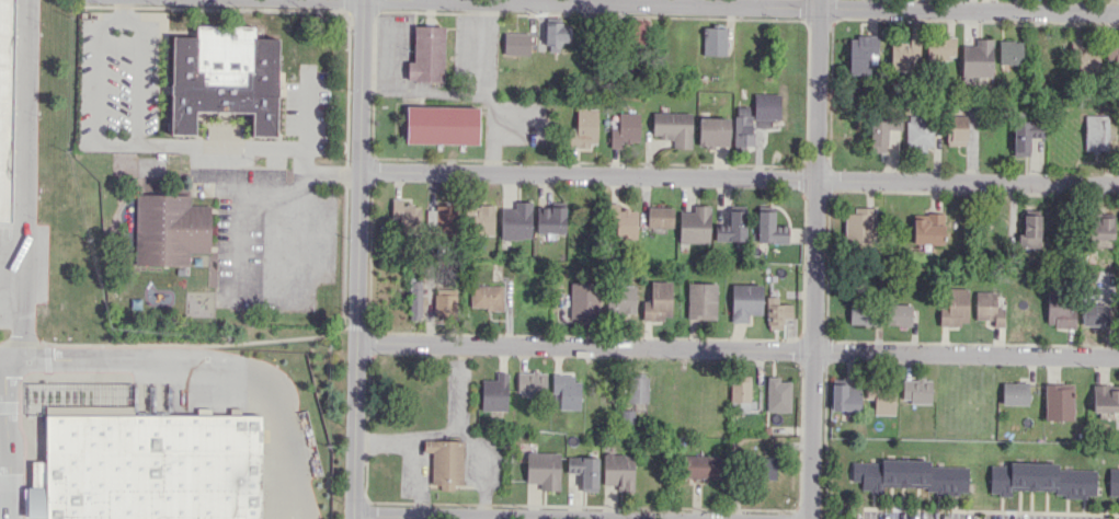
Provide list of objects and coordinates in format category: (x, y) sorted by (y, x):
road: (768, 7)
building: (555, 33)
building: (713, 39)
building: (516, 43)
building: (939, 47)
building: (1009, 51)
building: (861, 54)
building: (426, 55)
building: (904, 55)
building: (1114, 55)
building: (977, 58)
building: (1085, 58)
road: (138, 76)
building: (224, 77)
road: (477, 89)
road: (423, 90)
building: (3, 101)
building: (766, 105)
building: (442, 124)
building: (742, 126)
building: (672, 127)
building: (584, 128)
building: (881, 128)
building: (625, 129)
building: (956, 129)
building: (712, 131)
building: (920, 131)
building: (1096, 132)
building: (1025, 135)
road: (159, 142)
road: (739, 177)
road: (24, 181)
road: (242, 208)
building: (407, 216)
building: (430, 216)
building: (660, 216)
building: (550, 218)
building: (444, 219)
building: (481, 219)
building: (516, 221)
building: (624, 221)
building: (694, 224)
building: (732, 226)
building: (859, 226)
building: (1100, 226)
building: (769, 227)
building: (927, 228)
building: (169, 229)
building: (1029, 231)
road: (357, 258)
road: (817, 259)
building: (486, 296)
building: (414, 299)
building: (621, 299)
building: (583, 300)
building: (700, 300)
building: (658, 301)
building: (745, 301)
building: (444, 303)
building: (987, 307)
building: (955, 308)
building: (1059, 308)
building: (776, 312)
building: (861, 313)
building: (898, 314)
building: (1095, 314)
road: (738, 349)
road: (208, 359)
building: (530, 382)
building: (637, 389)
building: (916, 390)
building: (567, 391)
building: (494, 392)
building: (740, 393)
building: (1014, 393)
building: (777, 394)
building: (845, 395)
building: (881, 397)
building: (1105, 397)
building: (1058, 401)
building: (111, 410)
building: (627, 416)
road: (3, 428)
road: (8, 438)
building: (445, 462)
building: (699, 465)
parking lot: (12, 466)
building: (146, 468)
building: (765, 468)
building: (543, 470)
road: (4, 471)
building: (584, 471)
building: (618, 471)
building: (909, 475)
building: (1039, 478)
building: (1112, 481)
road: (4, 516)
road: (496, 516)

